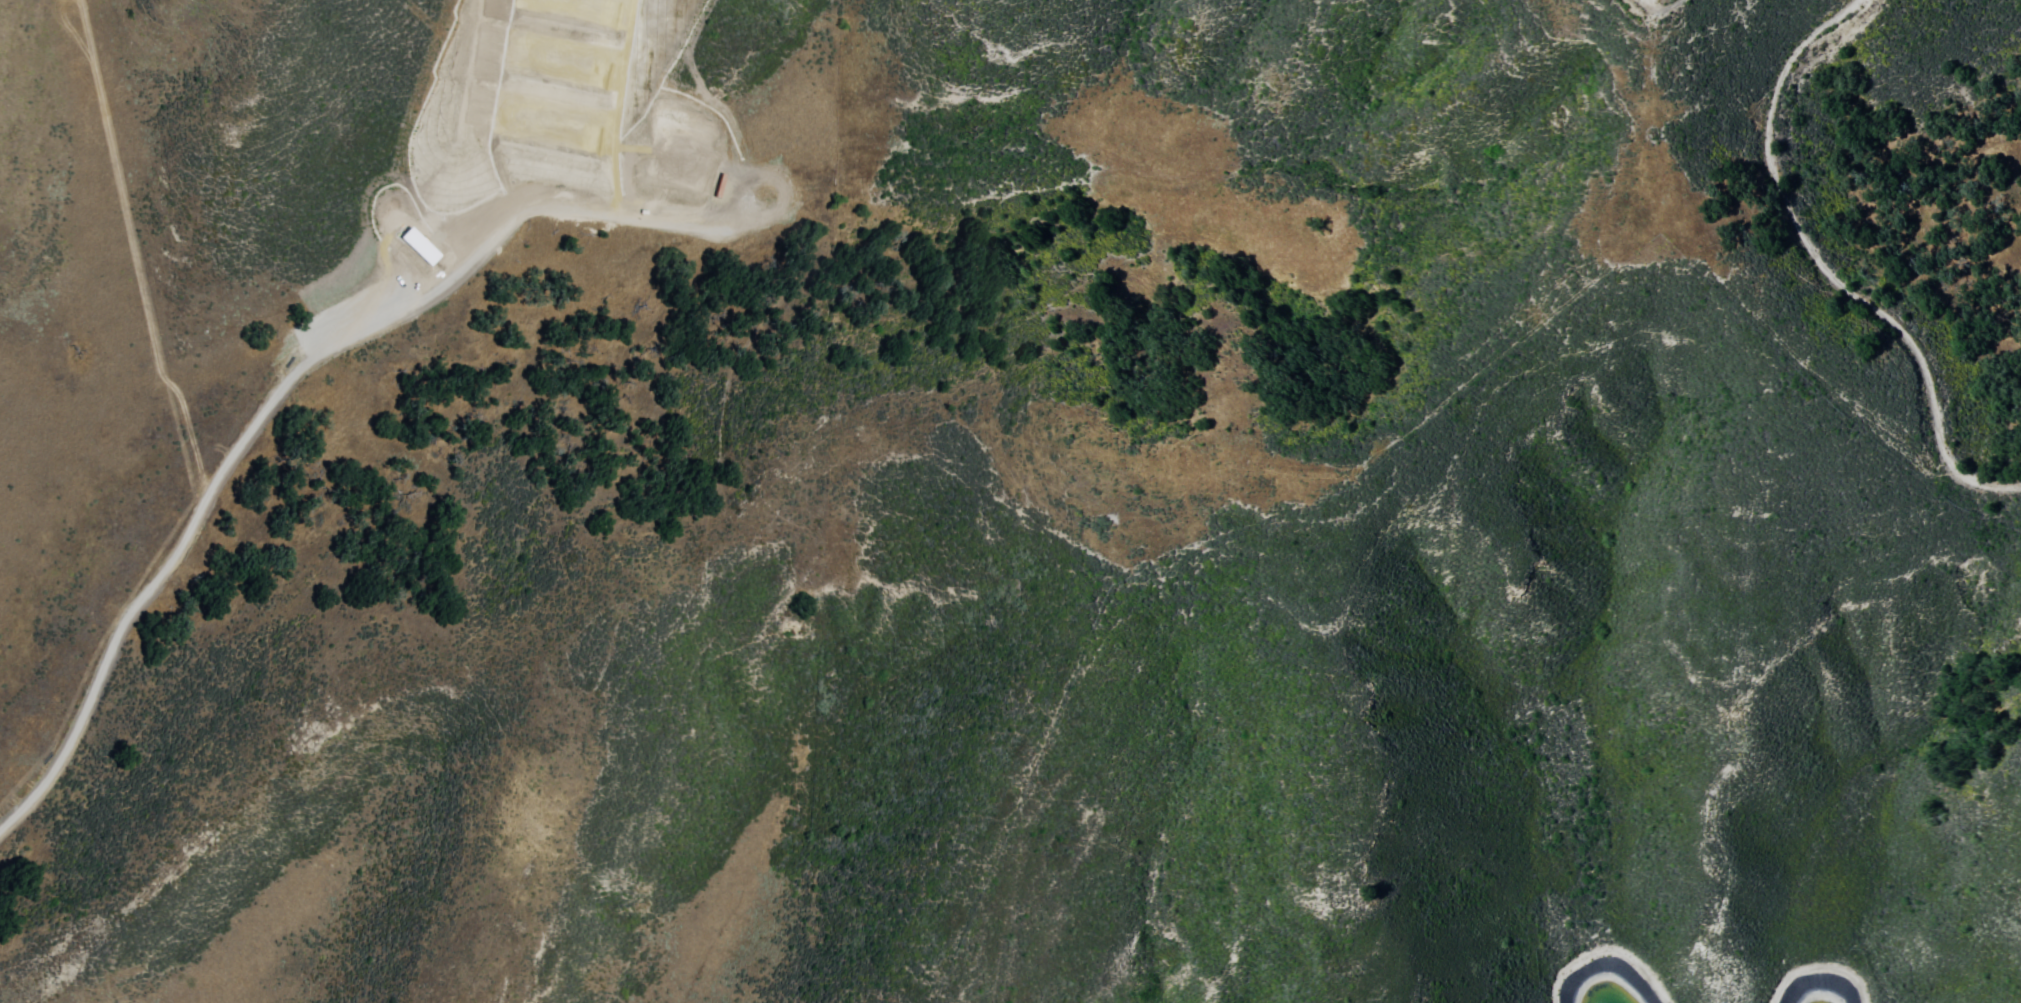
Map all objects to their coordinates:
road: (1825, 272)

